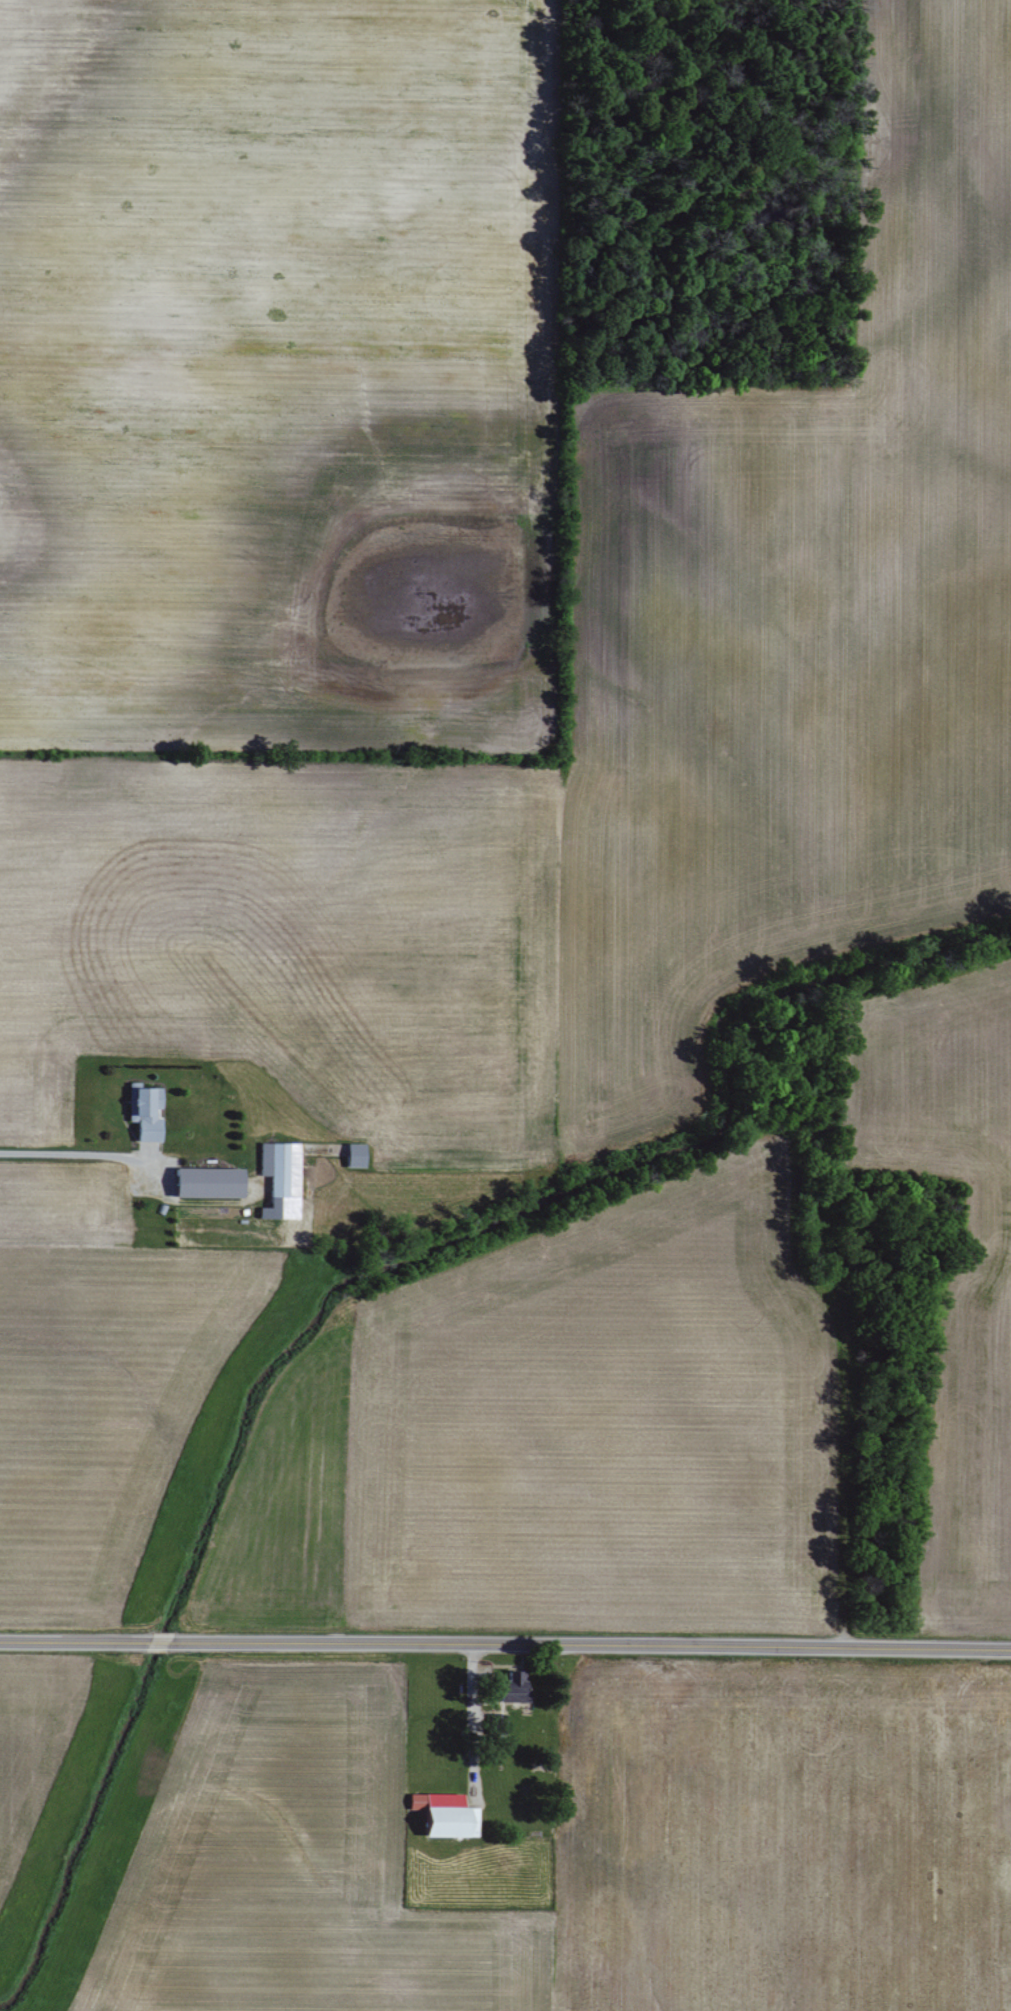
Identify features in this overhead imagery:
building: (144, 1112)
road: (72, 1154)
building: (355, 1155)
building: (281, 1168)
building: (208, 1183)
road: (505, 1647)
building: (514, 1688)
building: (446, 1815)

